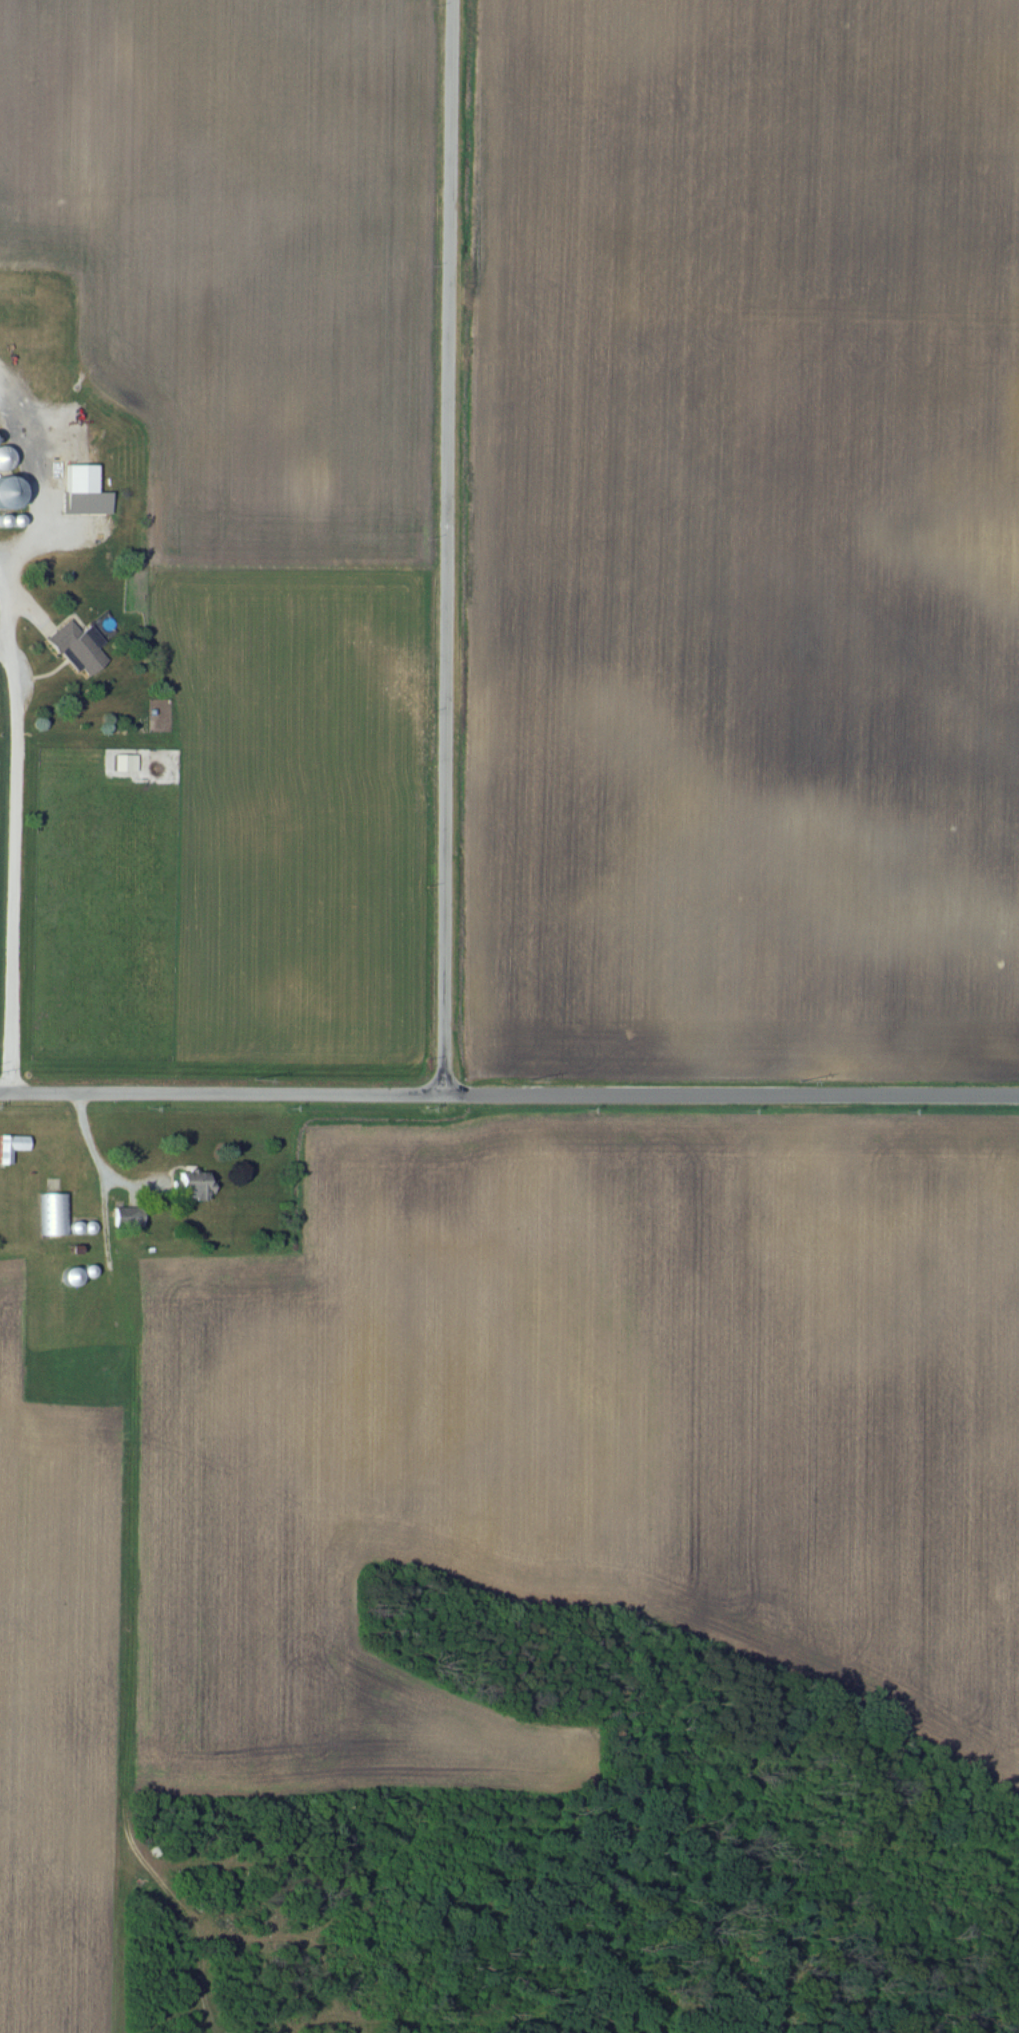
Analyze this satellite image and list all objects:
building: (83, 493)
road: (38, 530)
road: (445, 547)
building: (77, 649)
road: (6, 661)
road: (15, 688)
road: (16, 901)
road: (509, 1095)
building: (11, 1149)
road: (95, 1151)
building: (193, 1189)

